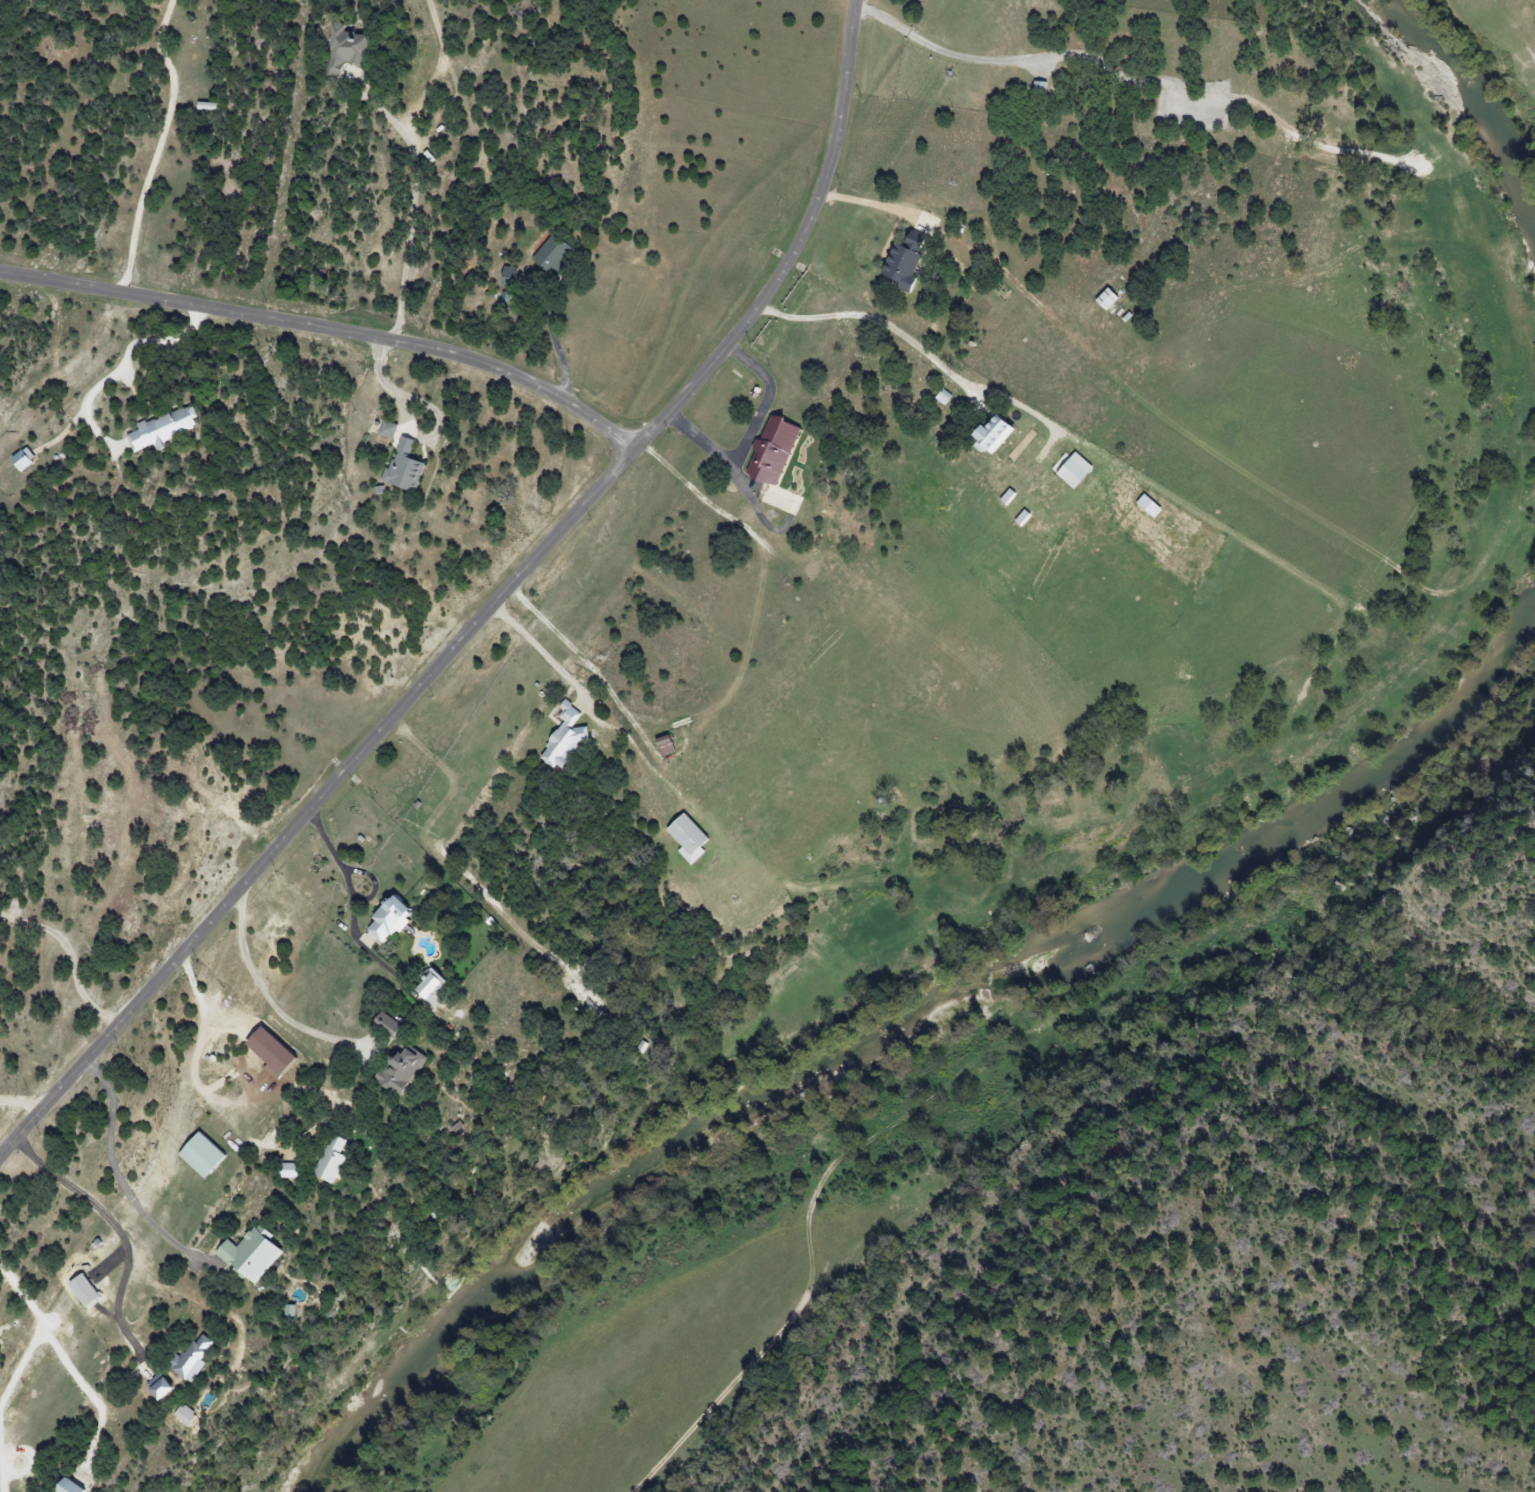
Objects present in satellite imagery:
building: (345, 49)
river: (1479, 102)
road: (159, 145)
road: (868, 205)
road: (410, 214)
building: (552, 255)
building: (903, 259)
building: (505, 277)
road: (872, 321)
road: (329, 331)
road: (155, 335)
road: (559, 347)
building: (163, 429)
road: (411, 429)
building: (387, 430)
road: (750, 434)
building: (991, 436)
building: (772, 452)
building: (22, 460)
building: (404, 467)
building: (1073, 470)
road: (491, 612)
road: (584, 699)
building: (564, 738)
building: (687, 838)
road: (339, 870)
building: (388, 919)
road: (70, 959)
road: (271, 996)
river: (902, 1021)
building: (401, 1071)
road: (203, 1087)
road: (23, 1099)
building: (201, 1155)
building: (330, 1160)
building: (287, 1171)
road: (121, 1181)
road: (120, 1227)
building: (249, 1255)
building: (83, 1290)
building: (290, 1311)
road: (37, 1329)
building: (192, 1358)
building: (159, 1387)
building: (185, 1415)
road: (1, 1475)
building: (68, 1487)

